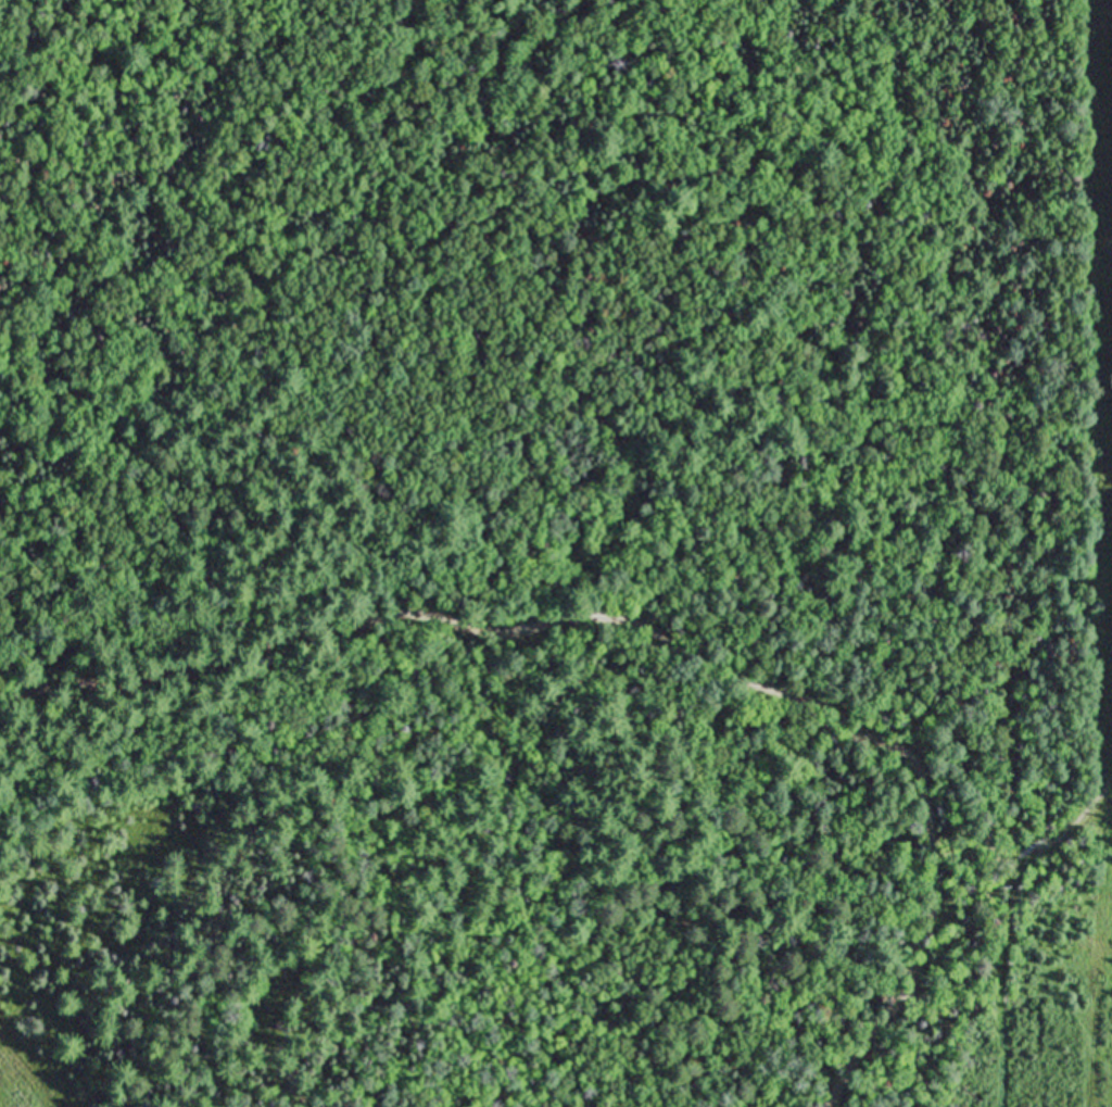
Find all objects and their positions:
road: (655, 641)

